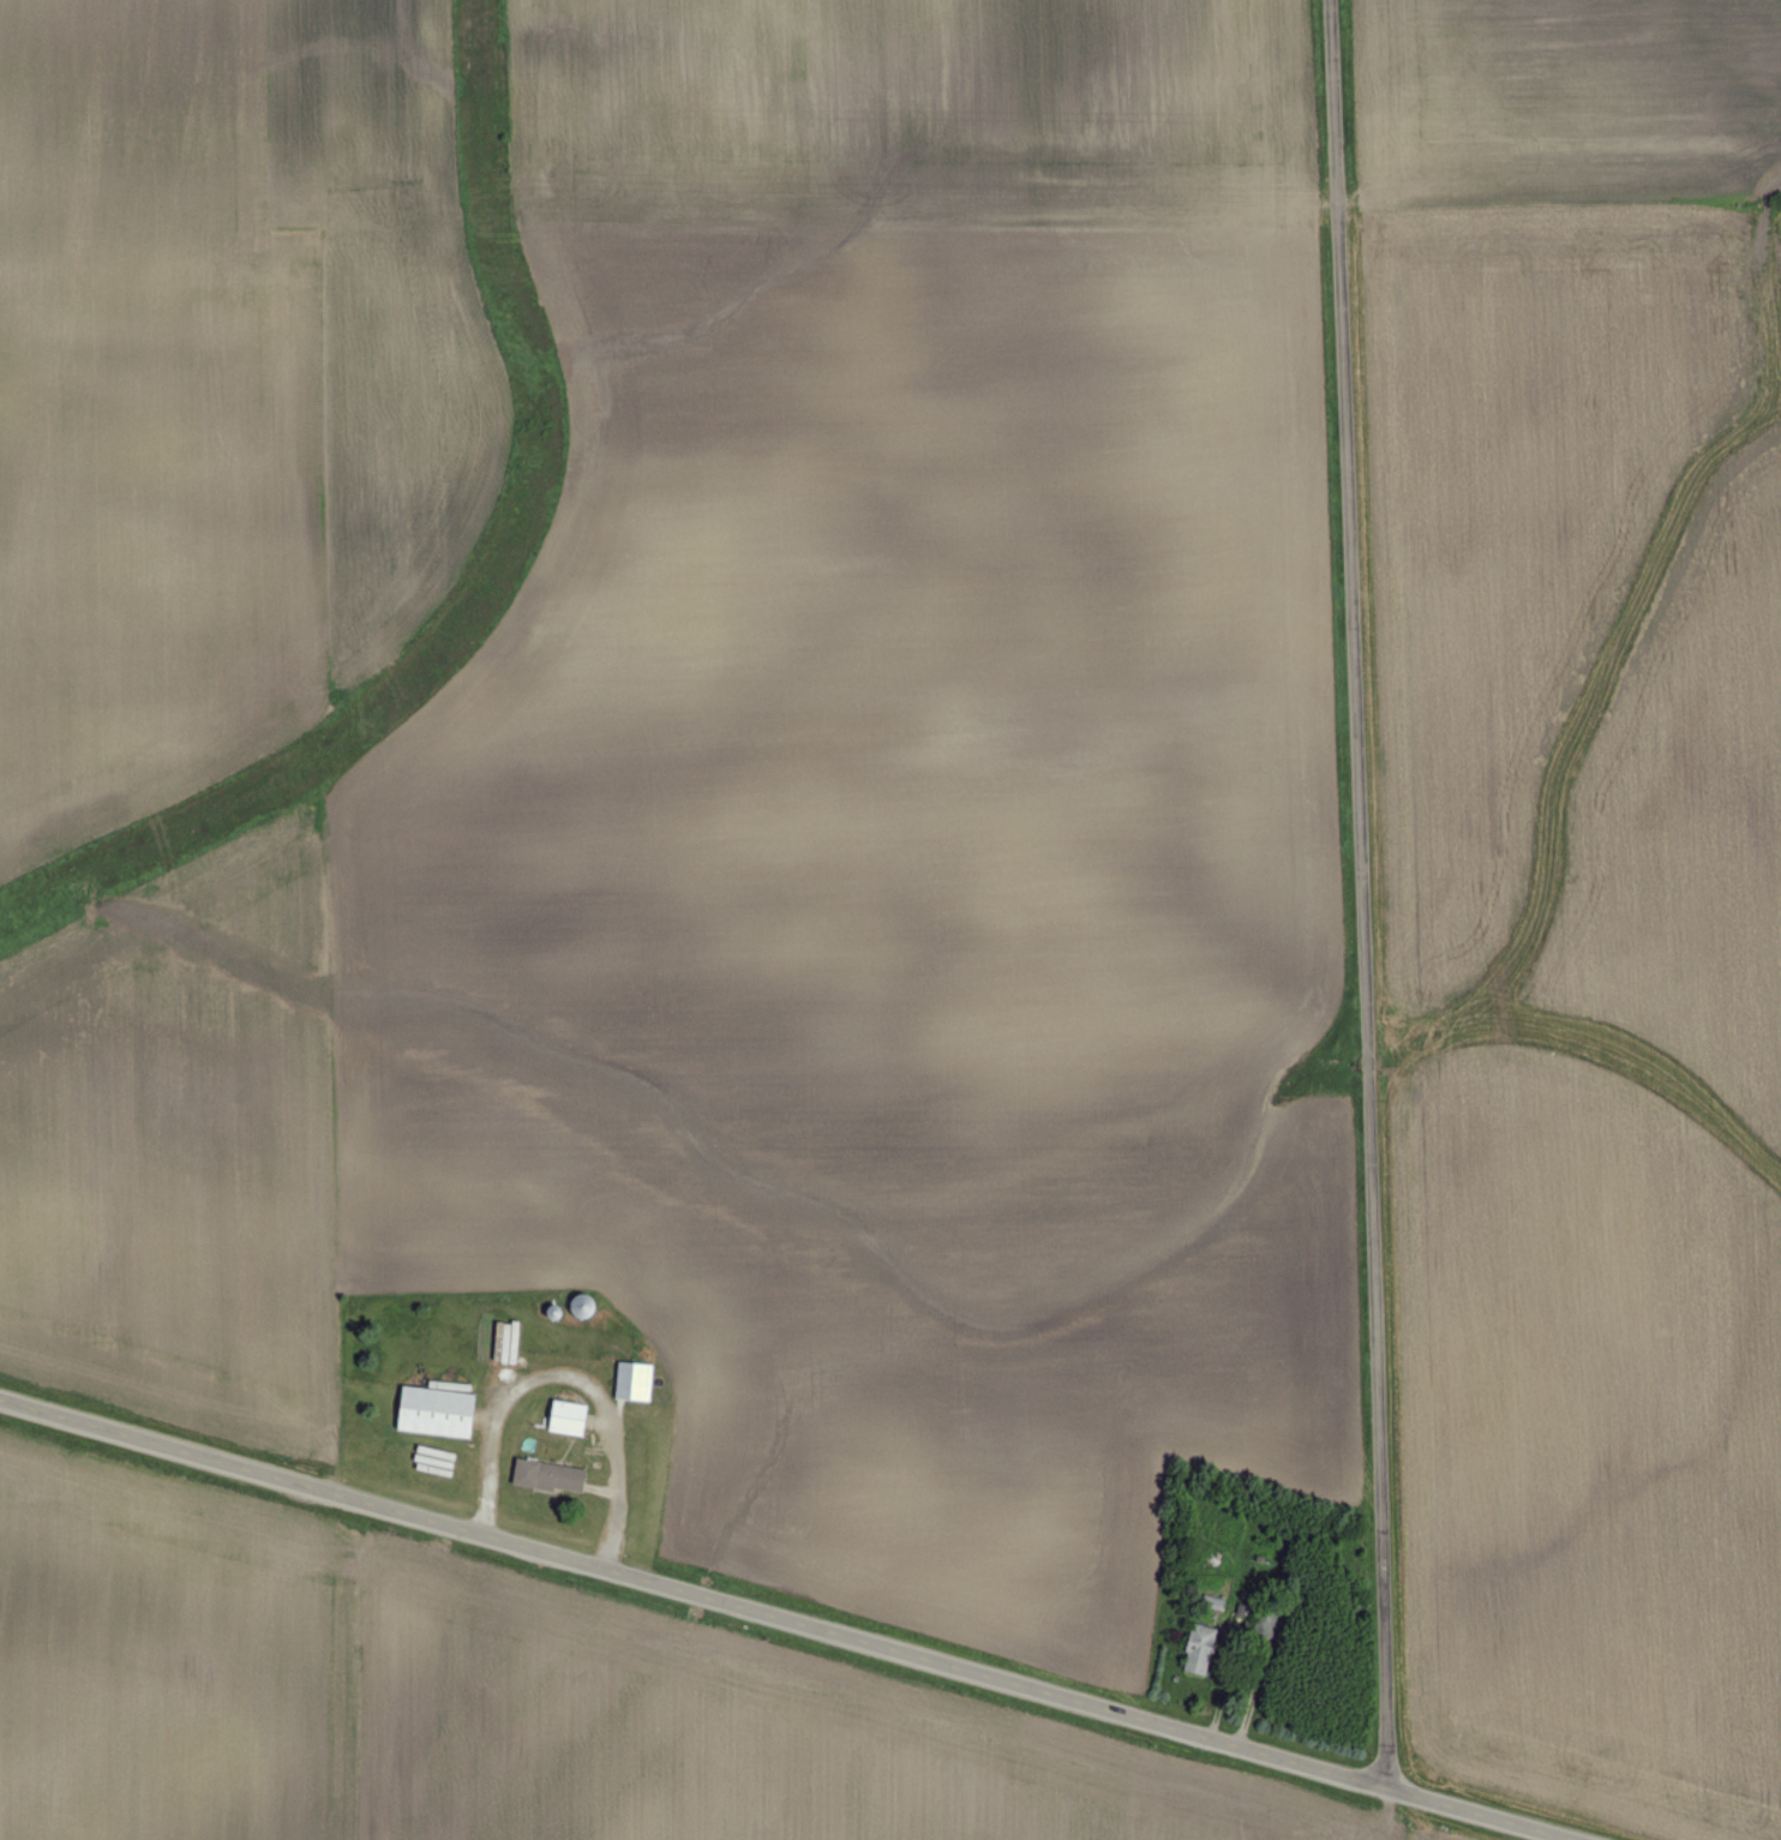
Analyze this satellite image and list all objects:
crop: (222, 385)
crop: (1531, 389)
crop: (1690, 811)
crop: (812, 839)
road: (1360, 893)
building: (510, 1347)
building: (637, 1385)
building: (440, 1416)
building: (571, 1422)
crop: (1588, 1443)
road: (785, 1618)
building: (1203, 1658)
crop: (492, 1702)

